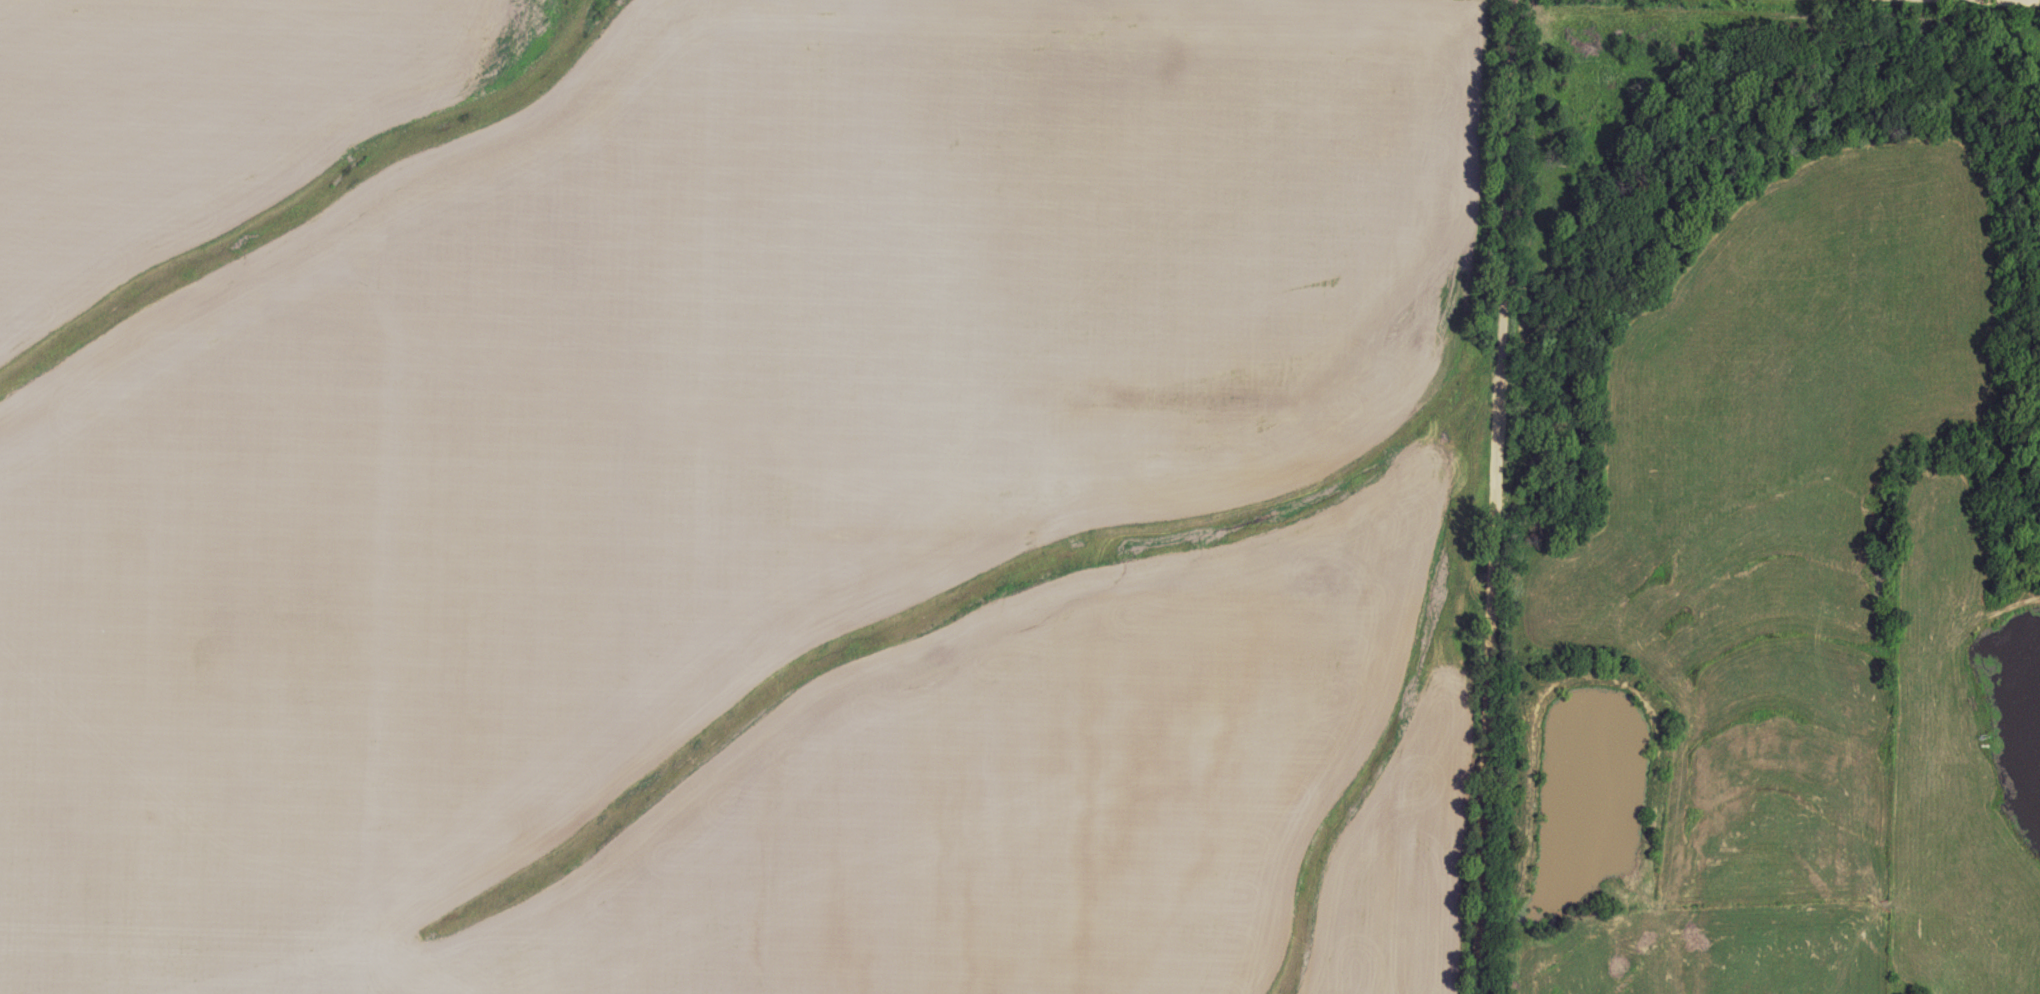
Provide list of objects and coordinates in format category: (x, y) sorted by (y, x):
road: (1988, 1)
road: (1480, 918)

